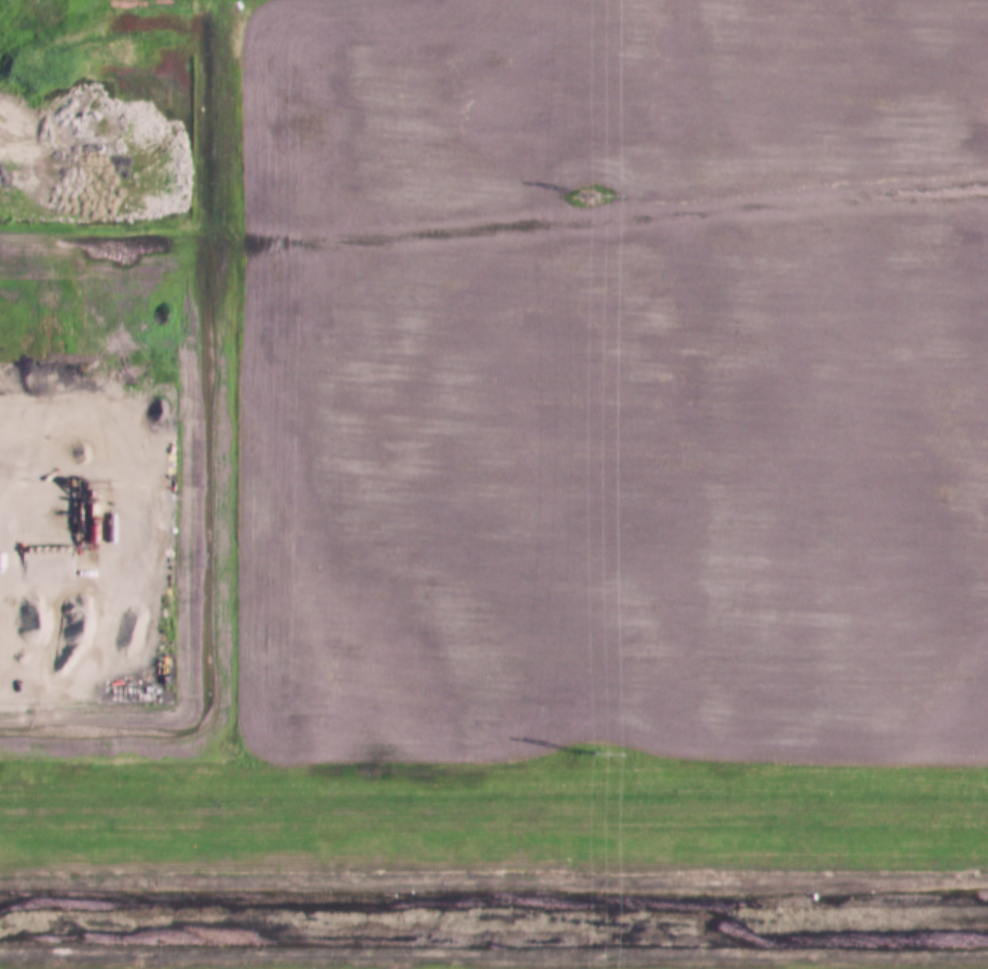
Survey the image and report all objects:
power tower: (586, 195)
crop: (612, 376)
power tower: (581, 752)

